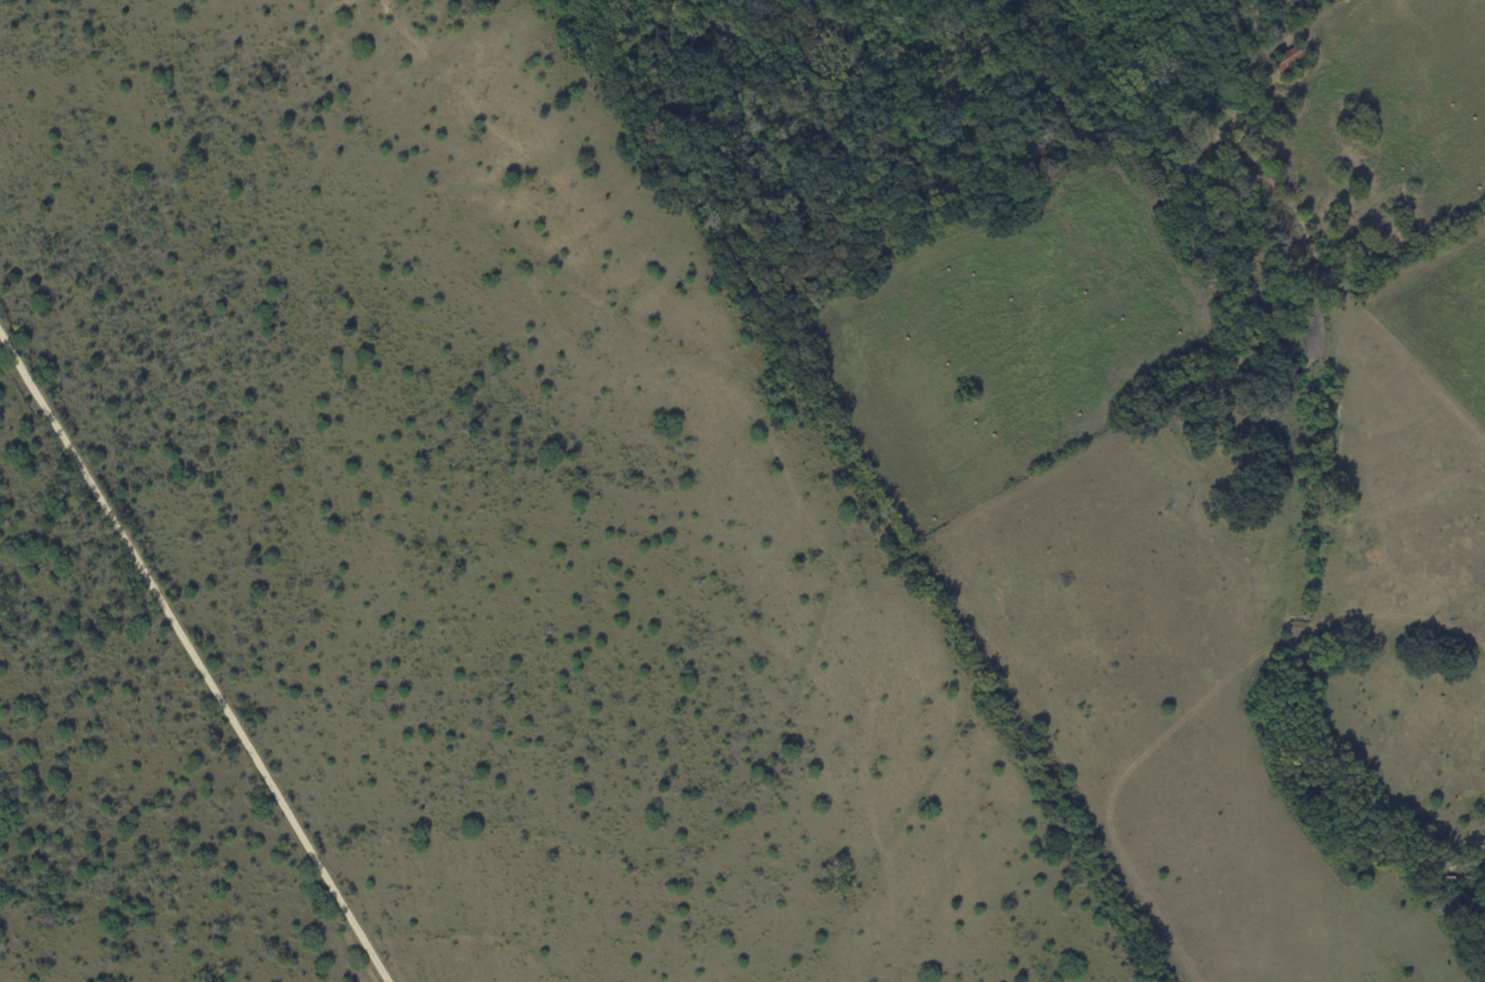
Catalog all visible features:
building: (1289, 58)
road: (201, 638)

